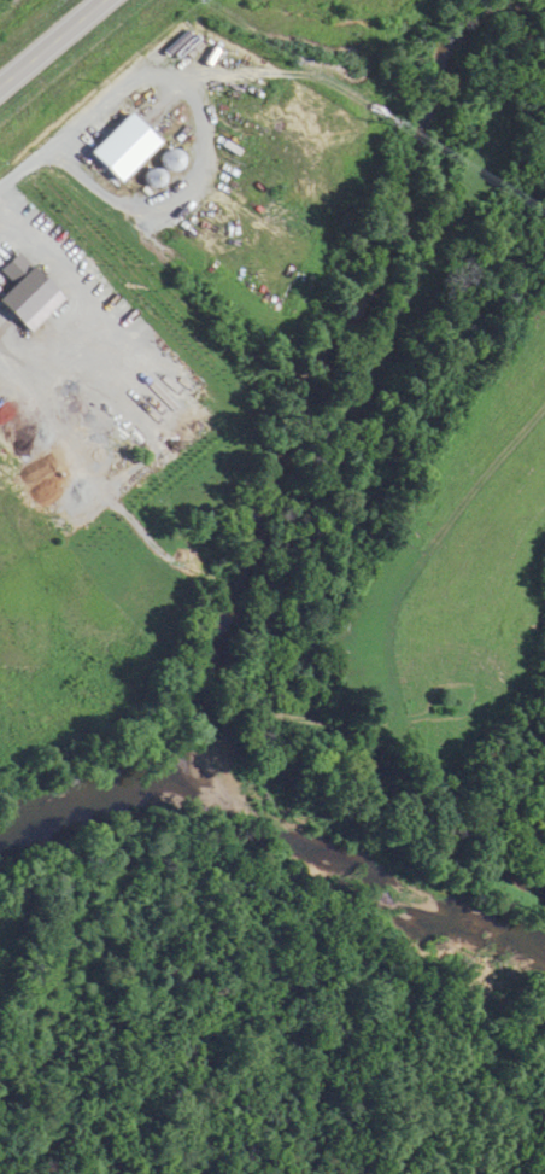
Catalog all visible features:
road: (47, 39)

